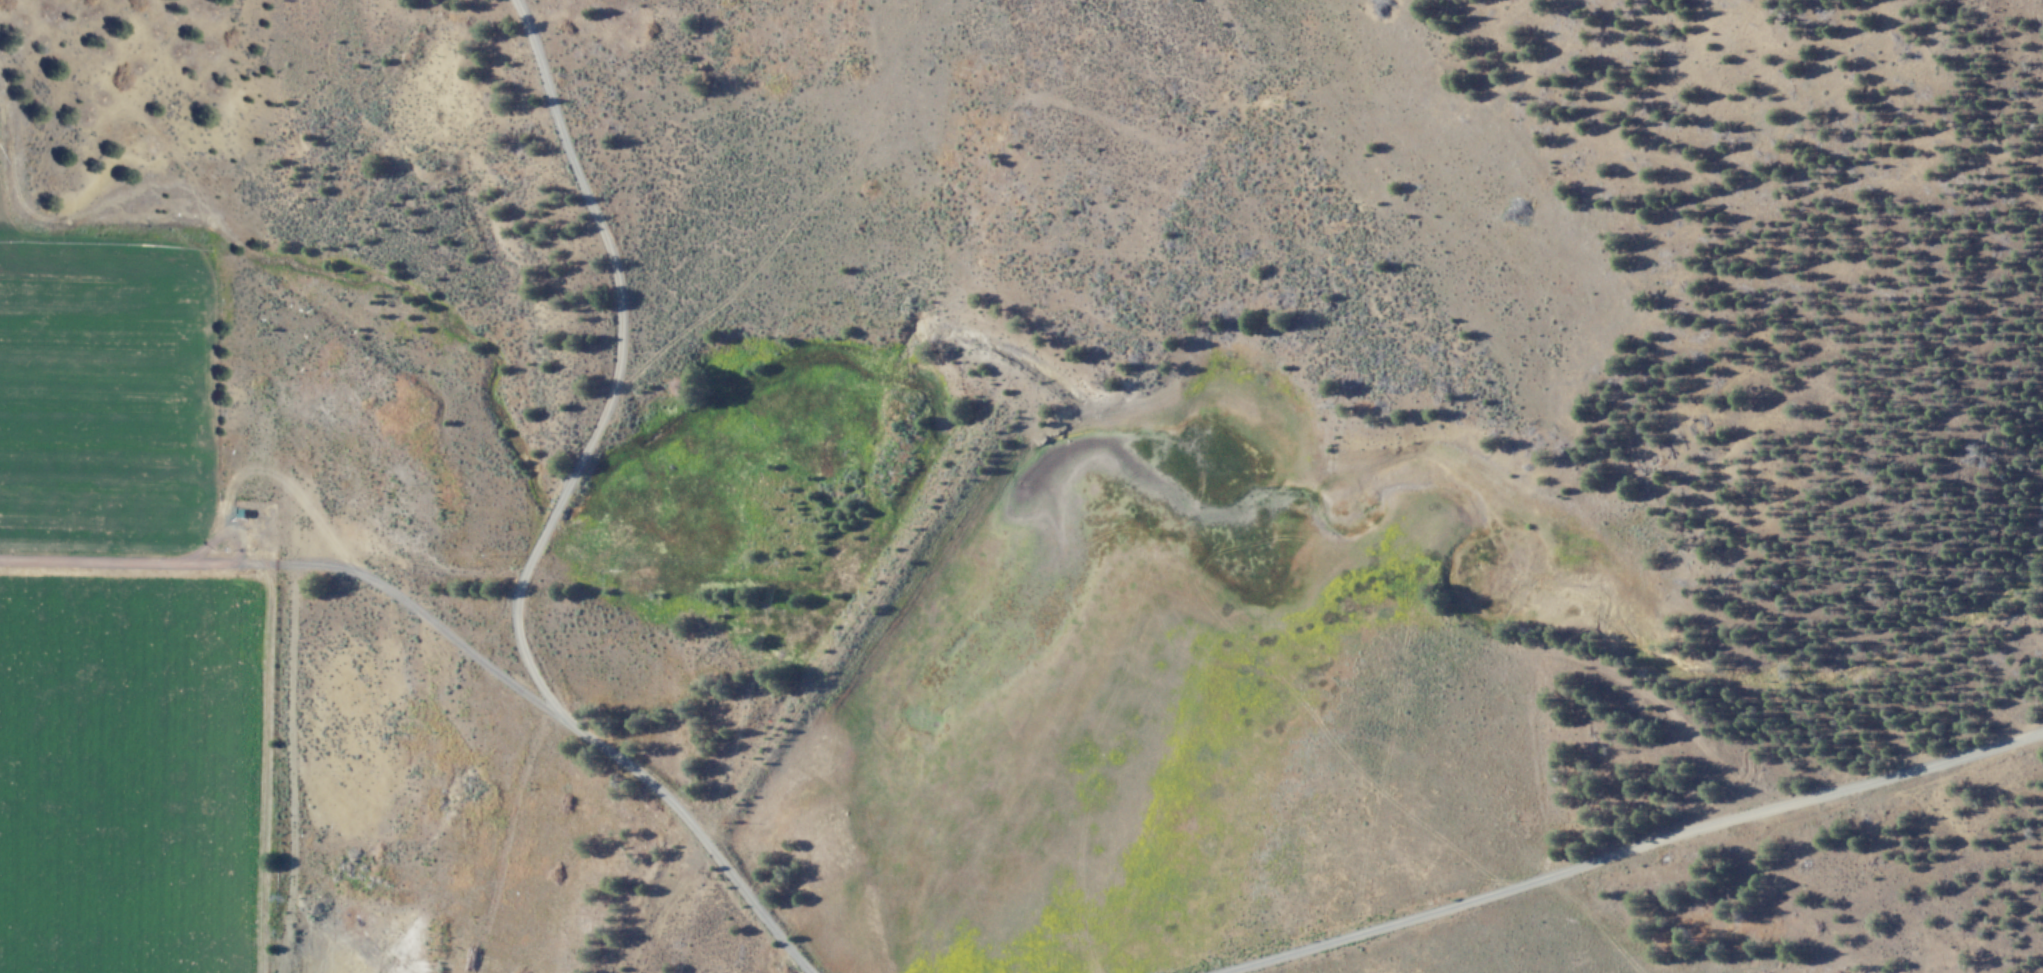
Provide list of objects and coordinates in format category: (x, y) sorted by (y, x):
road: (462, 645)
road: (1620, 851)

